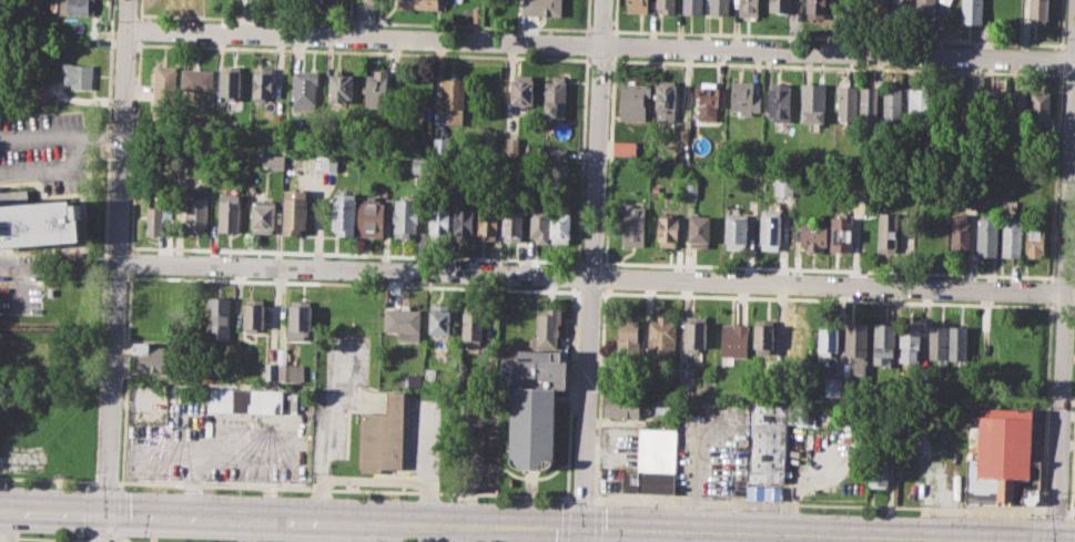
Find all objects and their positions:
building: (947, 1)
building: (418, 4)
building: (637, 6)
building: (665, 6)
building: (690, 6)
building: (779, 6)
building: (75, 7)
building: (541, 7)
building: (718, 7)
building: (748, 7)
building: (815, 8)
building: (879, 9)
building: (902, 9)
building: (1037, 10)
building: (924, 11)
building: (971, 11)
building: (476, 14)
road: (364, 19)
road: (600, 44)
building: (80, 75)
building: (197, 79)
building: (262, 82)
building: (229, 84)
building: (339, 85)
building: (376, 88)
building: (521, 90)
building: (165, 92)
building: (305, 94)
building: (38, 95)
building: (665, 98)
building: (743, 98)
building: (708, 99)
building: (554, 100)
building: (631, 100)
building: (452, 101)
building: (779, 102)
building: (812, 102)
building: (845, 102)
building: (919, 103)
building: (892, 104)
building: (869, 105)
building: (993, 105)
building: (1016, 105)
building: (970, 106)
building: (1038, 109)
building: (681, 136)
road: (37, 137)
building: (440, 145)
building: (513, 146)
building: (623, 146)
parking lot: (44, 151)
building: (556, 154)
building: (273, 161)
road: (75, 163)
building: (328, 163)
building: (419, 164)
building: (783, 187)
building: (690, 191)
building: (294, 211)
building: (230, 213)
building: (344, 213)
building: (196, 214)
building: (404, 215)
building: (264, 216)
building: (371, 216)
building: (160, 218)
building: (37, 219)
building: (438, 224)
building: (462, 224)
building: (632, 225)
building: (486, 226)
building: (511, 227)
building: (537, 227)
building: (559, 227)
building: (770, 228)
building: (668, 231)
building: (736, 231)
building: (698, 232)
building: (888, 232)
building: (841, 233)
building: (960, 234)
building: (813, 235)
building: (986, 236)
building: (1012, 236)
building: (1035, 241)
road: (116, 270)
road: (591, 270)
road: (19, 276)
road: (596, 280)
parking lot: (21, 283)
road: (1064, 300)
building: (255, 314)
building: (219, 318)
building: (440, 319)
building: (300, 320)
building: (402, 321)
building: (471, 325)
building: (546, 329)
building: (694, 333)
building: (763, 336)
building: (627, 337)
building: (661, 337)
building: (797, 338)
building: (733, 339)
building: (826, 340)
building: (936, 341)
building: (884, 342)
building: (959, 342)
building: (910, 344)
building: (855, 346)
building: (153, 357)
building: (290, 369)
building: (270, 371)
building: (686, 385)
building: (251, 399)
building: (533, 406)
building: (620, 406)
building: (665, 406)
building: (383, 436)
building: (767, 442)
road: (217, 453)
building: (1001, 457)
building: (653, 462)
building: (879, 466)
flagpole: (395, 473)
road: (191, 483)
building: (1074, 491)
building: (768, 492)
traffic signals: (108, 510)
road: (1069, 512)
road: (9, 524)
road: (527, 524)
traffic signals: (581, 525)
road: (1068, 530)
road: (48, 538)
road: (104, 541)
road: (130, 541)
traffic signals: (1056, 541)

